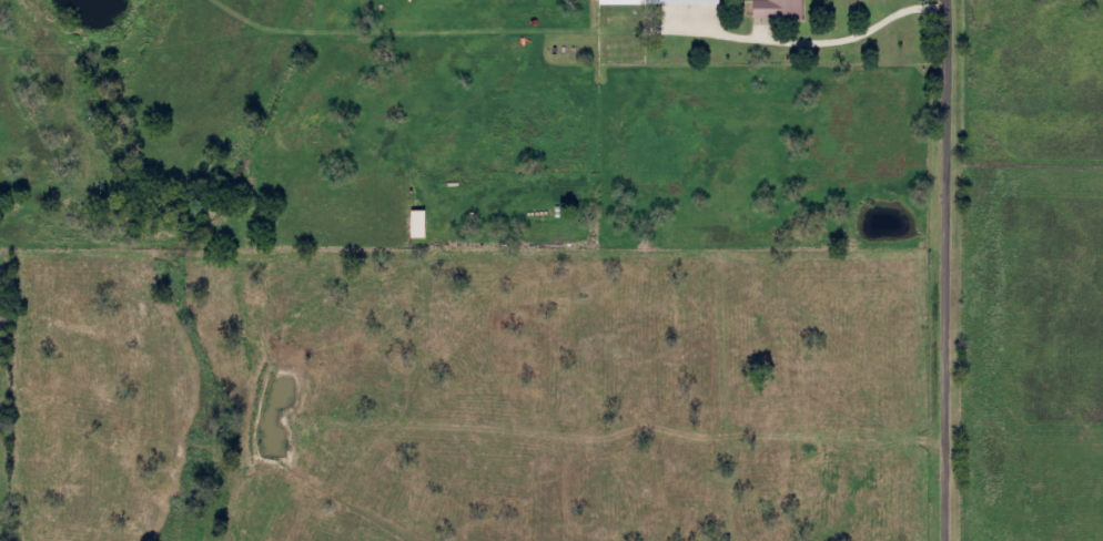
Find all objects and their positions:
building: (665, 2)
building: (786, 10)
building: (426, 225)
road: (944, 270)

